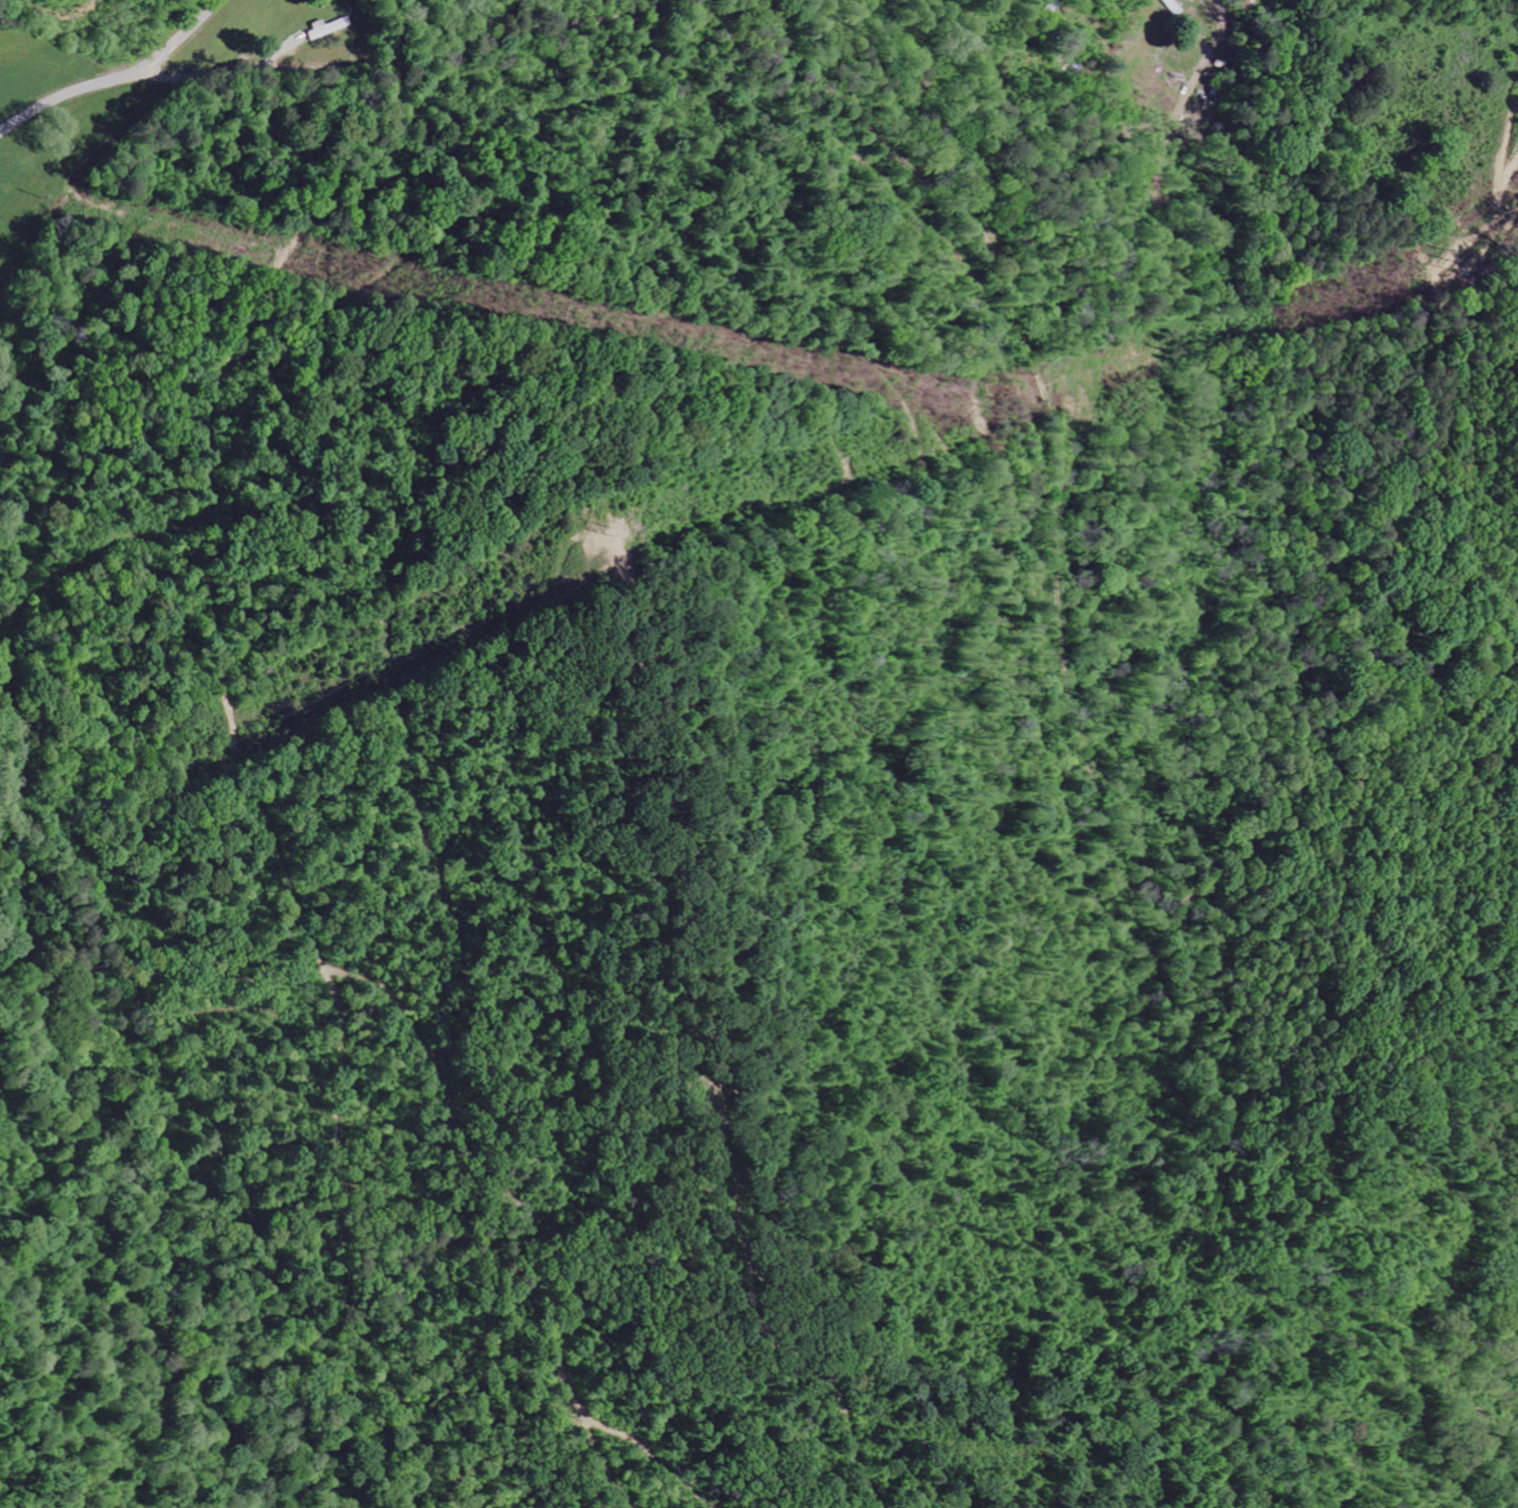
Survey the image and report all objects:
building: (1176, 7)
building: (331, 28)
road: (118, 76)

